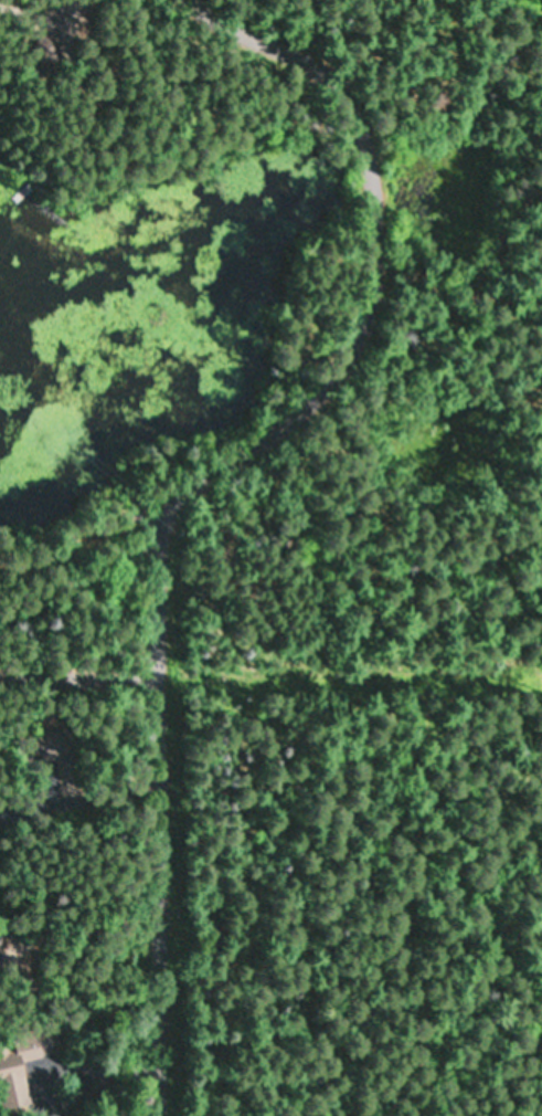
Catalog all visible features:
road: (350, 322)
road: (77, 657)
road: (157, 883)
building: (20, 1064)

